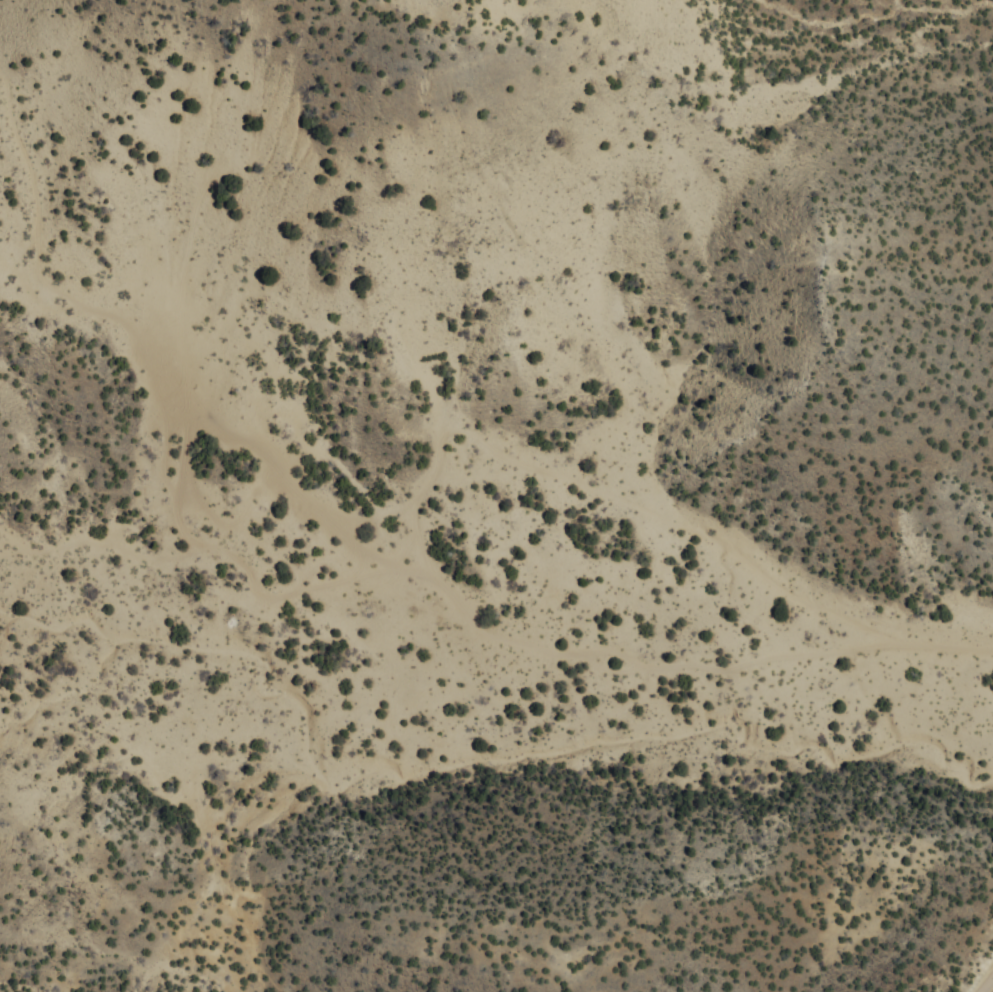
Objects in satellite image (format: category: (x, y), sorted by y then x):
road: (987, 985)

